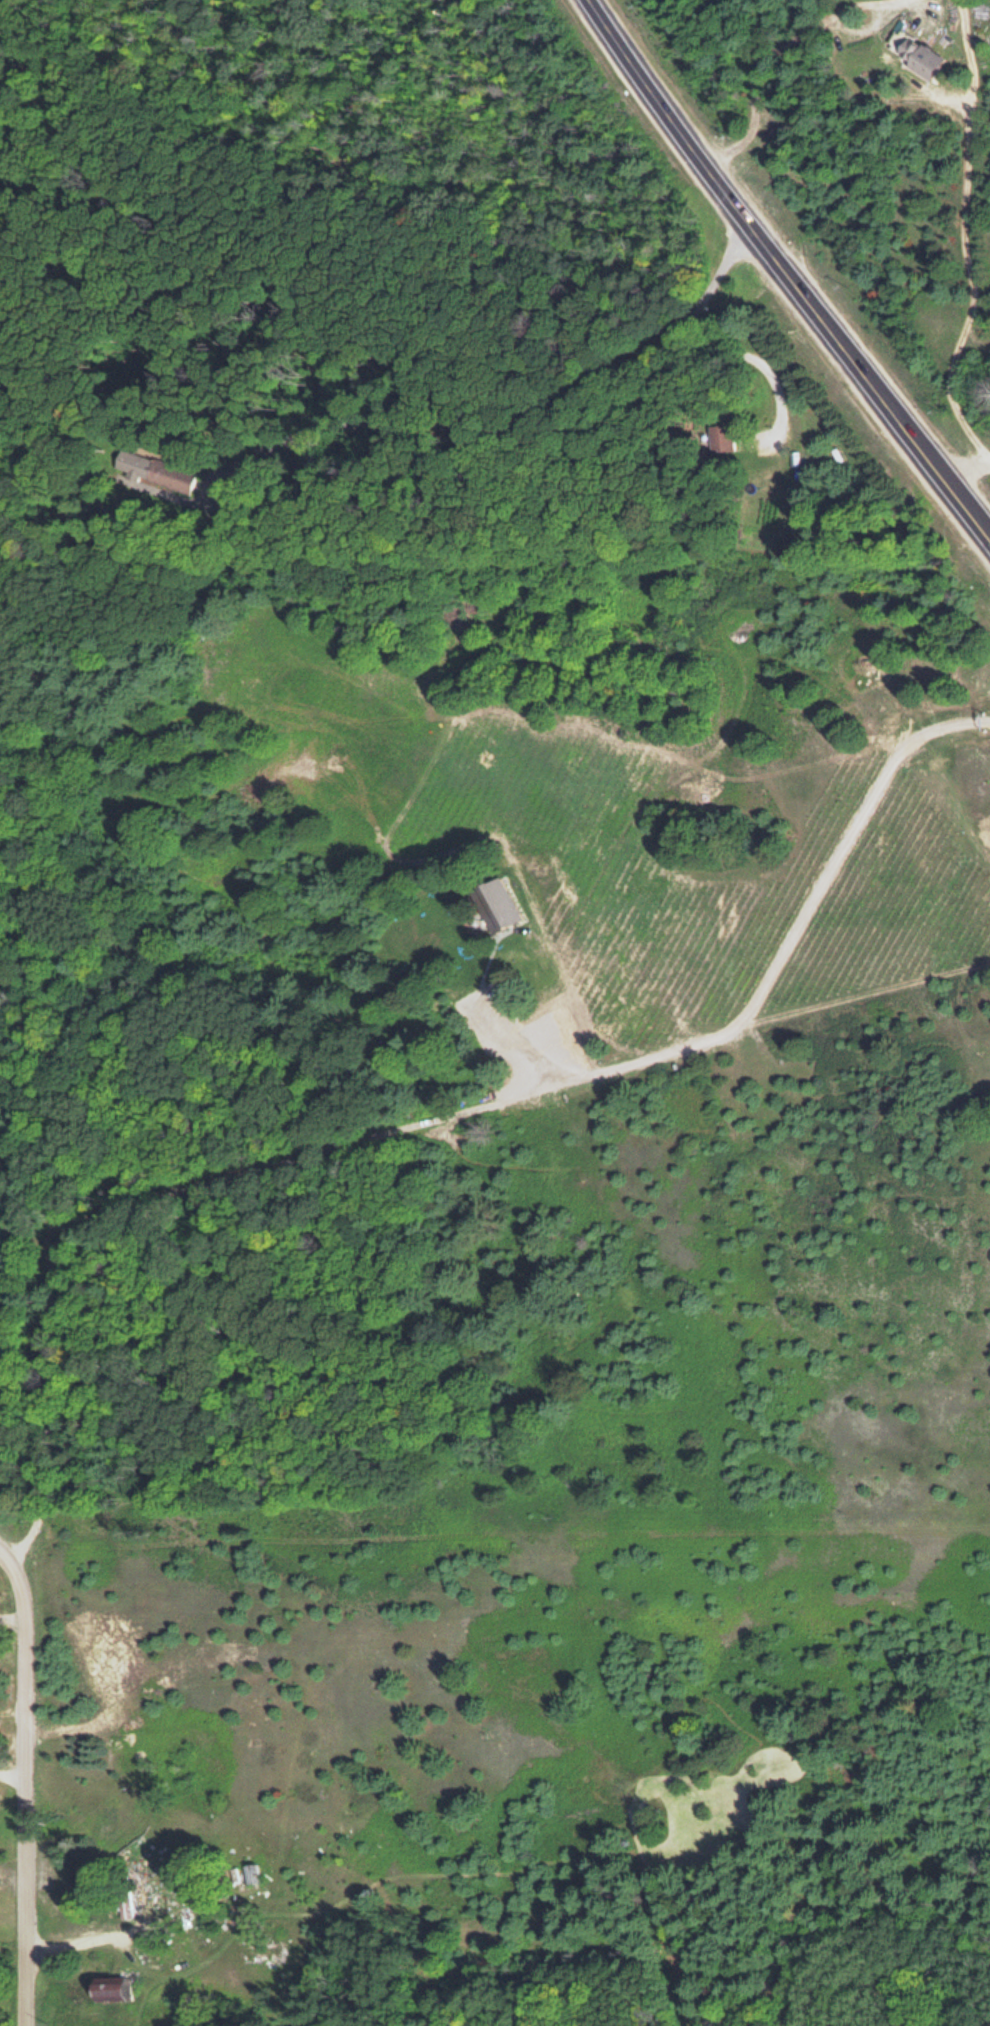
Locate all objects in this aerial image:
building: (915, 54)
road: (786, 271)
road: (451, 321)
road: (737, 368)
building: (720, 436)
building: (154, 470)
road: (27, 1782)
building: (252, 1872)
building: (259, 1950)
building: (109, 1987)

